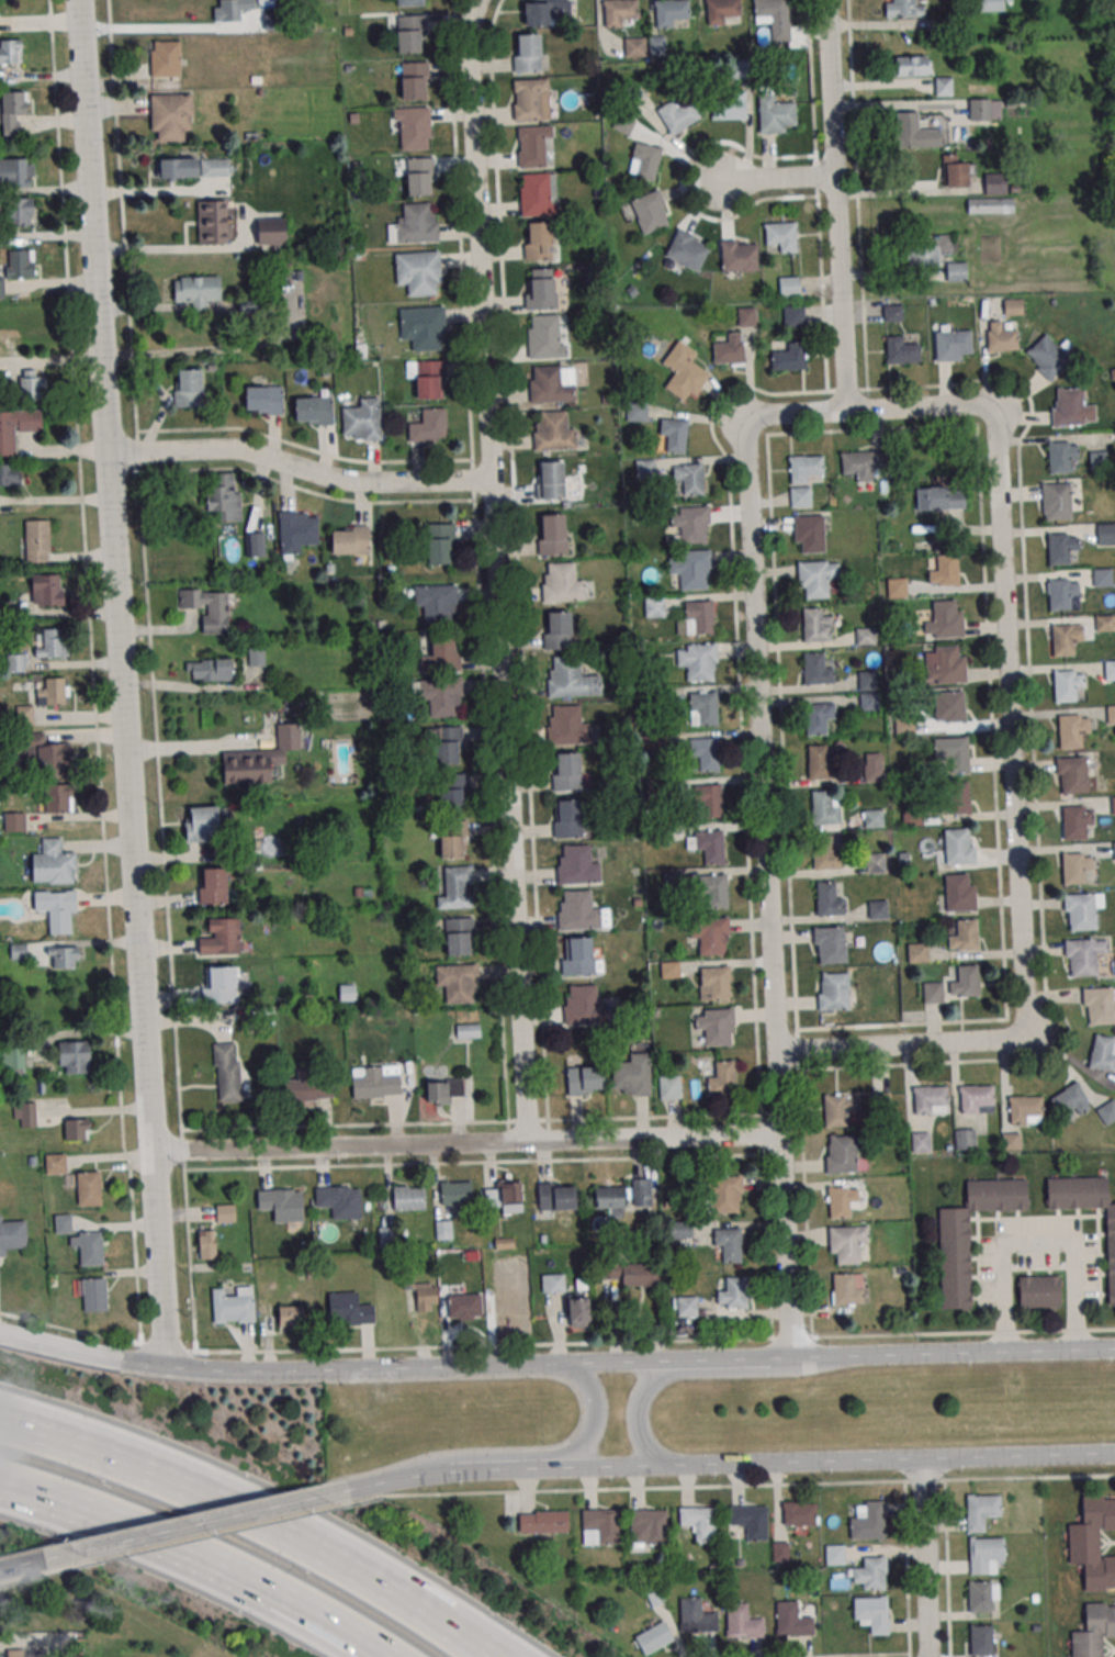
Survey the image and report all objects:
building: (410, 2)
building: (991, 5)
building: (230, 9)
building: (903, 9)
building: (721, 11)
building: (547, 12)
building: (620, 12)
building: (672, 13)
building: (774, 18)
road: (148, 30)
building: (410, 34)
building: (656, 45)
building: (634, 46)
building: (10, 51)
building: (529, 53)
building: (165, 57)
building: (911, 65)
building: (414, 80)
building: (943, 86)
road: (833, 87)
building: (531, 99)
building: (728, 105)
road: (898, 105)
building: (983, 109)
building: (12, 113)
building: (676, 114)
building: (776, 114)
building: (171, 115)
building: (414, 127)
building: (914, 132)
building: (537, 145)
building: (644, 160)
building: (194, 167)
building: (16, 172)
building: (958, 173)
building: (420, 176)
road: (778, 180)
building: (999, 183)
road: (153, 190)
road: (906, 192)
building: (537, 195)
building: (990, 204)
building: (21, 211)
building: (651, 213)
building: (212, 222)
building: (417, 224)
road: (94, 225)
building: (271, 231)
building: (781, 236)
road: (481, 239)
building: (539, 240)
road: (166, 247)
building: (686, 251)
building: (737, 256)
building: (921, 256)
building: (16, 266)
building: (956, 271)
building: (419, 272)
building: (789, 286)
building: (541, 289)
building: (198, 290)
road: (843, 293)
building: (249, 304)
building: (1012, 306)
building: (892, 313)
building: (793, 315)
building: (746, 316)
building: (424, 327)
building: (1002, 336)
building: (545, 338)
building: (953, 345)
building: (728, 349)
building: (901, 351)
building: (789, 356)
building: (1046, 357)
building: (427, 378)
building: (685, 378)
building: (33, 384)
building: (550, 385)
building: (188, 388)
road: (846, 391)
building: (263, 400)
building: (1071, 407)
building: (313, 410)
building: (635, 412)
building: (362, 421)
road: (977, 425)
building: (429, 426)
building: (16, 427)
building: (554, 432)
building: (673, 435)
building: (1061, 456)
building: (1097, 460)
building: (864, 461)
road: (301, 468)
building: (644, 468)
building: (9, 474)
building: (689, 478)
building: (803, 478)
building: (550, 480)
building: (223, 496)
building: (939, 499)
building: (1056, 501)
building: (690, 524)
building: (297, 531)
building: (809, 531)
building: (1106, 533)
building: (552, 535)
building: (35, 540)
building: (350, 540)
building: (256, 544)
building: (439, 544)
building: (1059, 548)
road: (145, 564)
building: (690, 569)
building: (943, 570)
building: (1102, 576)
building: (816, 578)
building: (563, 582)
building: (896, 587)
building: (46, 590)
building: (1062, 594)
building: (437, 603)
building: (654, 606)
building: (207, 607)
building: (696, 618)
building: (945, 619)
building: (1104, 623)
building: (816, 624)
building: (557, 630)
building: (866, 636)
building: (1065, 638)
building: (52, 642)
building: (438, 652)
building: (256, 654)
building: (697, 660)
building: (15, 661)
building: (944, 663)
building: (212, 670)
building: (816, 670)
building: (1110, 670)
road: (92, 672)
building: (572, 679)
building: (867, 681)
building: (1067, 685)
road: (759, 687)
building: (54, 692)
building: (442, 696)
building: (869, 701)
building: (949, 706)
building: (703, 708)
building: (1111, 714)
building: (26, 715)
building: (819, 718)
building: (568, 726)
building: (1072, 730)
road: (194, 744)
building: (446, 744)
building: (706, 752)
building: (953, 752)
building: (47, 755)
building: (260, 758)
building: (821, 761)
building: (872, 772)
road: (1014, 772)
building: (568, 773)
building: (1072, 775)
building: (452, 791)
building: (57, 798)
building: (956, 798)
building: (709, 800)
building: (1112, 805)
building: (824, 807)
road: (510, 809)
building: (567, 818)
building: (874, 818)
building: (14, 821)
building: (1075, 821)
building: (202, 824)
building: (452, 839)
building: (707, 844)
building: (958, 846)
building: (1114, 851)
building: (825, 852)
building: (53, 863)
building: (875, 863)
building: (578, 865)
building: (1075, 869)
building: (213, 885)
building: (454, 886)
building: (712, 891)
building: (959, 892)
building: (829, 899)
road: (138, 908)
building: (878, 909)
building: (57, 910)
building: (1081, 910)
building: (579, 911)
building: (710, 934)
building: (962, 934)
building: (460, 936)
building: (221, 937)
building: (829, 944)
building: (917, 952)
building: (65, 956)
building: (1083, 956)
building: (578, 958)
building: (669, 969)
building: (965, 982)
building: (459, 983)
building: (713, 983)
building: (217, 985)
building: (833, 990)
building: (933, 992)
building: (1099, 1006)
building: (585, 1007)
building: (714, 1026)
building: (1103, 1053)
building: (74, 1057)
building: (12, 1061)
building: (229, 1074)
building: (632, 1076)
building: (721, 1078)
building: (585, 1079)
building: (376, 1081)
building: (308, 1084)
building: (671, 1087)
building: (444, 1089)
road: (780, 1093)
building: (931, 1099)
building: (977, 1099)
building: (1070, 1101)
building: (874, 1104)
building: (838, 1109)
building: (1025, 1109)
building: (1106, 1111)
building: (25, 1115)
road: (489, 1121)
building: (77, 1129)
road: (654, 1137)
building: (965, 1139)
building: (1011, 1141)
building: (921, 1142)
road: (340, 1145)
road: (183, 1150)
building: (841, 1153)
road: (470, 1163)
building: (55, 1164)
building: (89, 1188)
building: (455, 1191)
building: (640, 1193)
building: (724, 1194)
building: (503, 1196)
building: (556, 1196)
building: (408, 1197)
building: (610, 1197)
building: (340, 1201)
building: (841, 1201)
building: (282, 1205)
building: (225, 1212)
building: (679, 1229)
building: (12, 1235)
building: (846, 1242)
building: (207, 1244)
building: (728, 1244)
road: (1037, 1244)
road: (787, 1245)
building: (89, 1247)
building: (1111, 1257)
building: (955, 1259)
road: (190, 1262)
building: (633, 1273)
building: (553, 1283)
building: (847, 1289)
building: (421, 1291)
building: (1039, 1291)
building: (731, 1292)
building: (93, 1295)
building: (233, 1305)
building: (464, 1306)
building: (684, 1306)
building: (349, 1309)
building: (578, 1311)
building: (282, 1315)
road: (811, 1334)
road: (404, 1347)
road: (83, 1352)
road: (954, 1353)
road: (782, 1357)
road: (671, 1361)
road: (369, 1368)
road: (702, 1373)
road: (522, 1455)
road: (1018, 1455)
road: (796, 1463)
road: (564, 1468)
road: (388, 1481)
building: (981, 1511)
building: (798, 1513)
road: (254, 1521)
building: (543, 1521)
building: (750, 1521)
building: (867, 1521)
building: (699, 1522)
road: (196, 1524)
building: (599, 1527)
building: (647, 1527)
building: (1093, 1544)
building: (834, 1554)
building: (986, 1554)
road: (196, 1557)
road: (925, 1558)
road: (36, 1560)
building: (869, 1574)
building: (981, 1596)
building: (871, 1614)
building: (697, 1616)
building: (793, 1617)
building: (743, 1622)
building: (1094, 1632)
building: (654, 1637)
building: (980, 1639)
building: (27, 1654)

